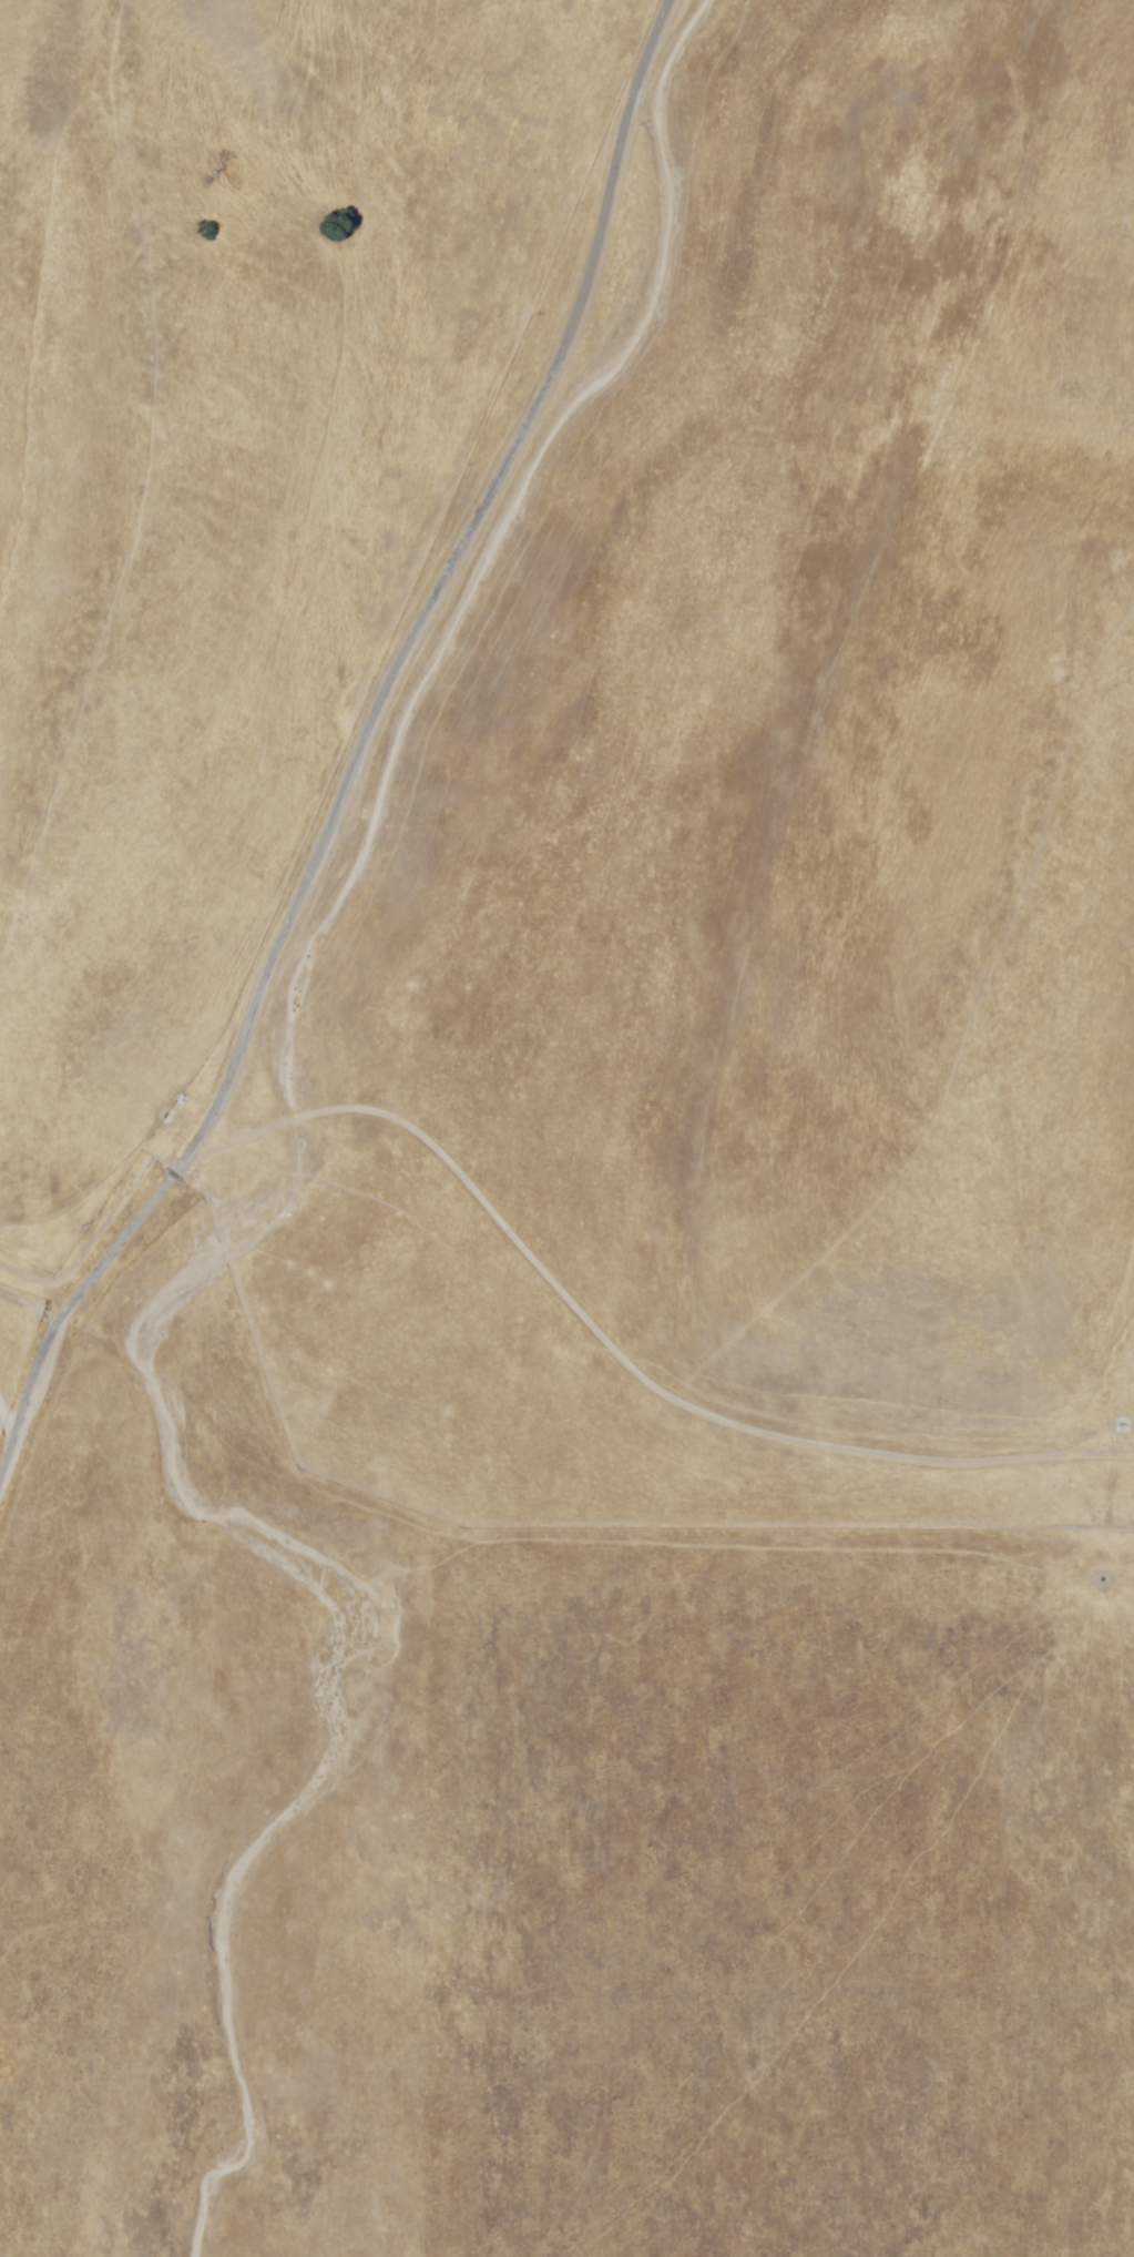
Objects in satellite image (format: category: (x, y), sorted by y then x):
road: (362, 752)
road: (24, 1342)

